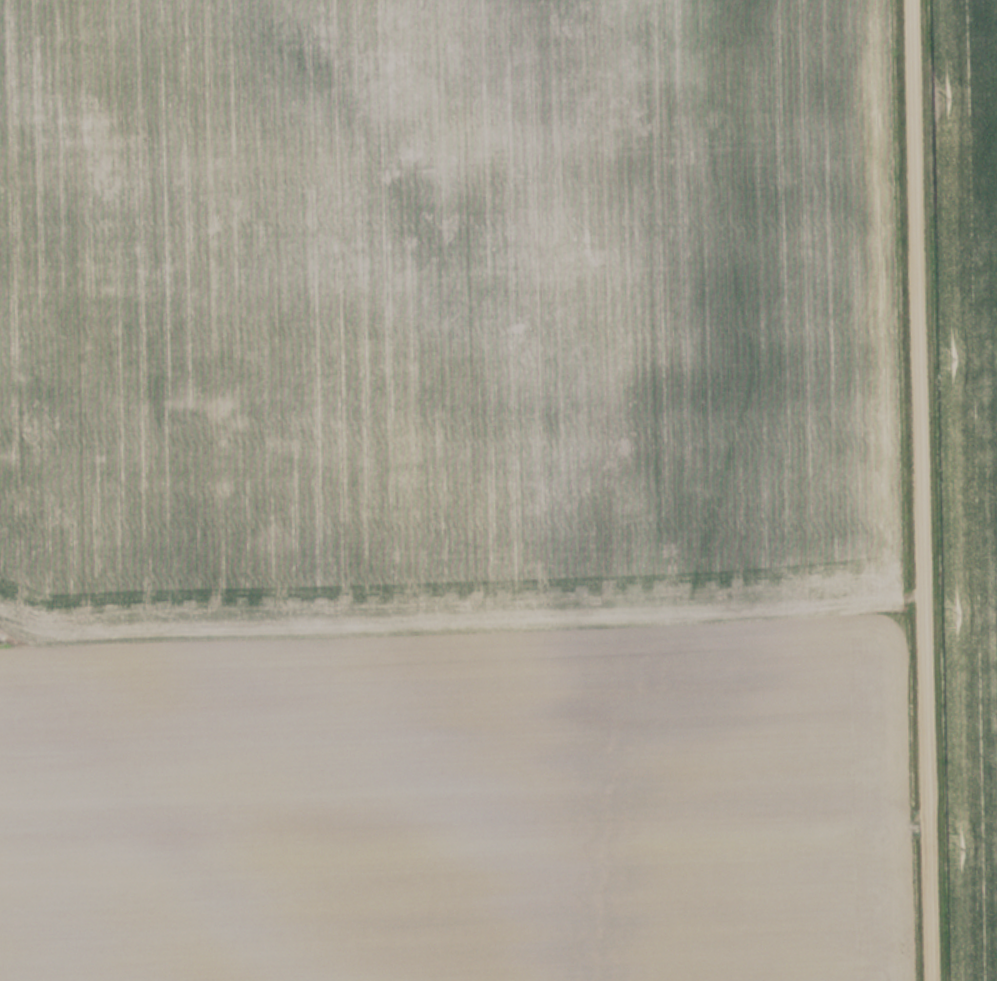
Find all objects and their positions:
road: (917, 490)

